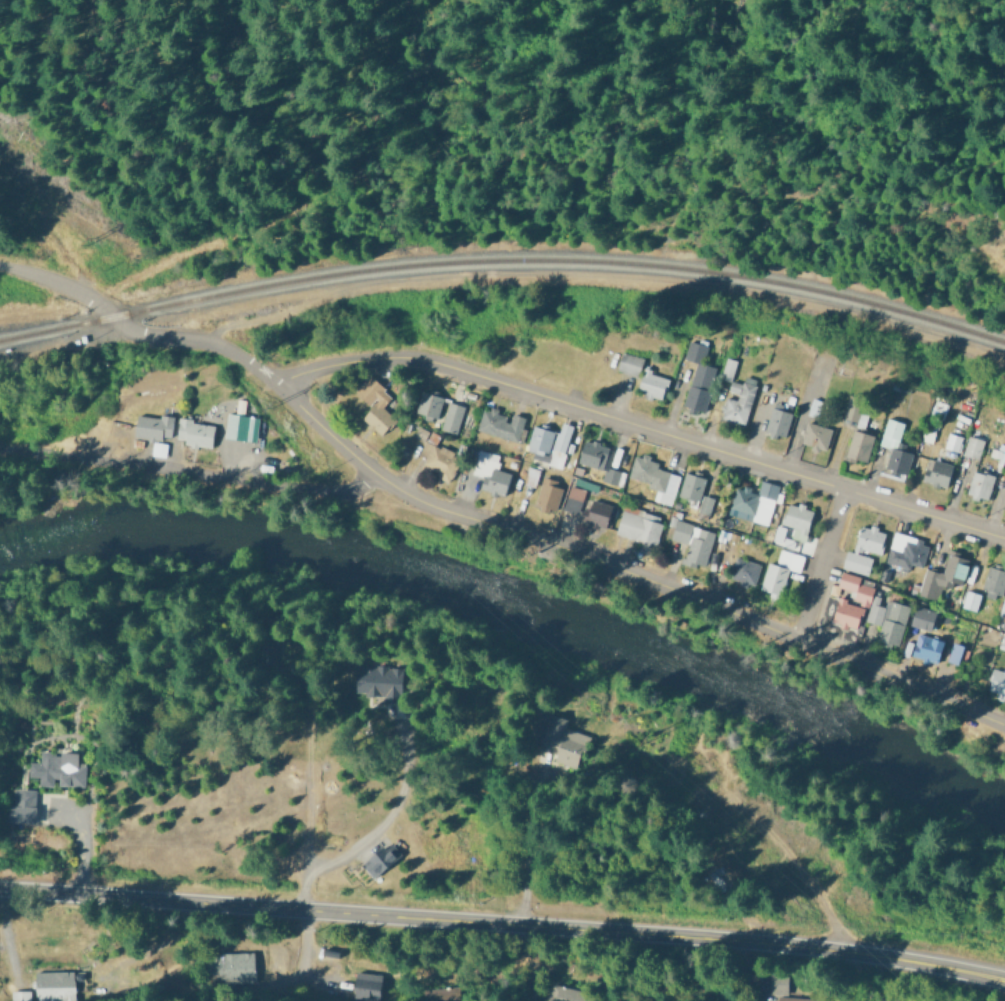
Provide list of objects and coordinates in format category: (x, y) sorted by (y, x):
railway: (504, 260)
road: (139, 344)
building: (727, 368)
building: (630, 371)
building: (698, 388)
building: (652, 394)
building: (738, 400)
building: (429, 403)
building: (375, 404)
building: (851, 408)
building: (451, 416)
building: (777, 420)
building: (499, 423)
building: (152, 424)
building: (241, 426)
building: (193, 430)
road: (325, 434)
road: (644, 434)
building: (815, 435)
building: (562, 436)
building: (539, 439)
building: (952, 441)
building: (858, 444)
building: (893, 446)
building: (972, 446)
road: (5, 451)
building: (438, 459)
building: (1003, 465)
building: (936, 472)
road: (192, 473)
building: (490, 473)
building: (530, 476)
building: (653, 477)
building: (979, 483)
building: (690, 485)
building: (548, 492)
building: (754, 501)
building: (704, 504)
building: (587, 506)
building: (639, 524)
building: (792, 524)
building: (693, 541)
building: (863, 548)
building: (906, 550)
building: (743, 570)
building: (779, 570)
road: (820, 573)
building: (943, 575)
building: (993, 581)
building: (859, 599)
building: (970, 599)
road: (683, 604)
river: (517, 606)
building: (1003, 614)
building: (922, 617)
building: (887, 619)
building: (927, 647)
building: (957, 653)
building: (377, 682)
building: (997, 682)
building: (563, 741)
building: (57, 768)
building: (22, 805)
building: (381, 859)
road: (503, 923)

